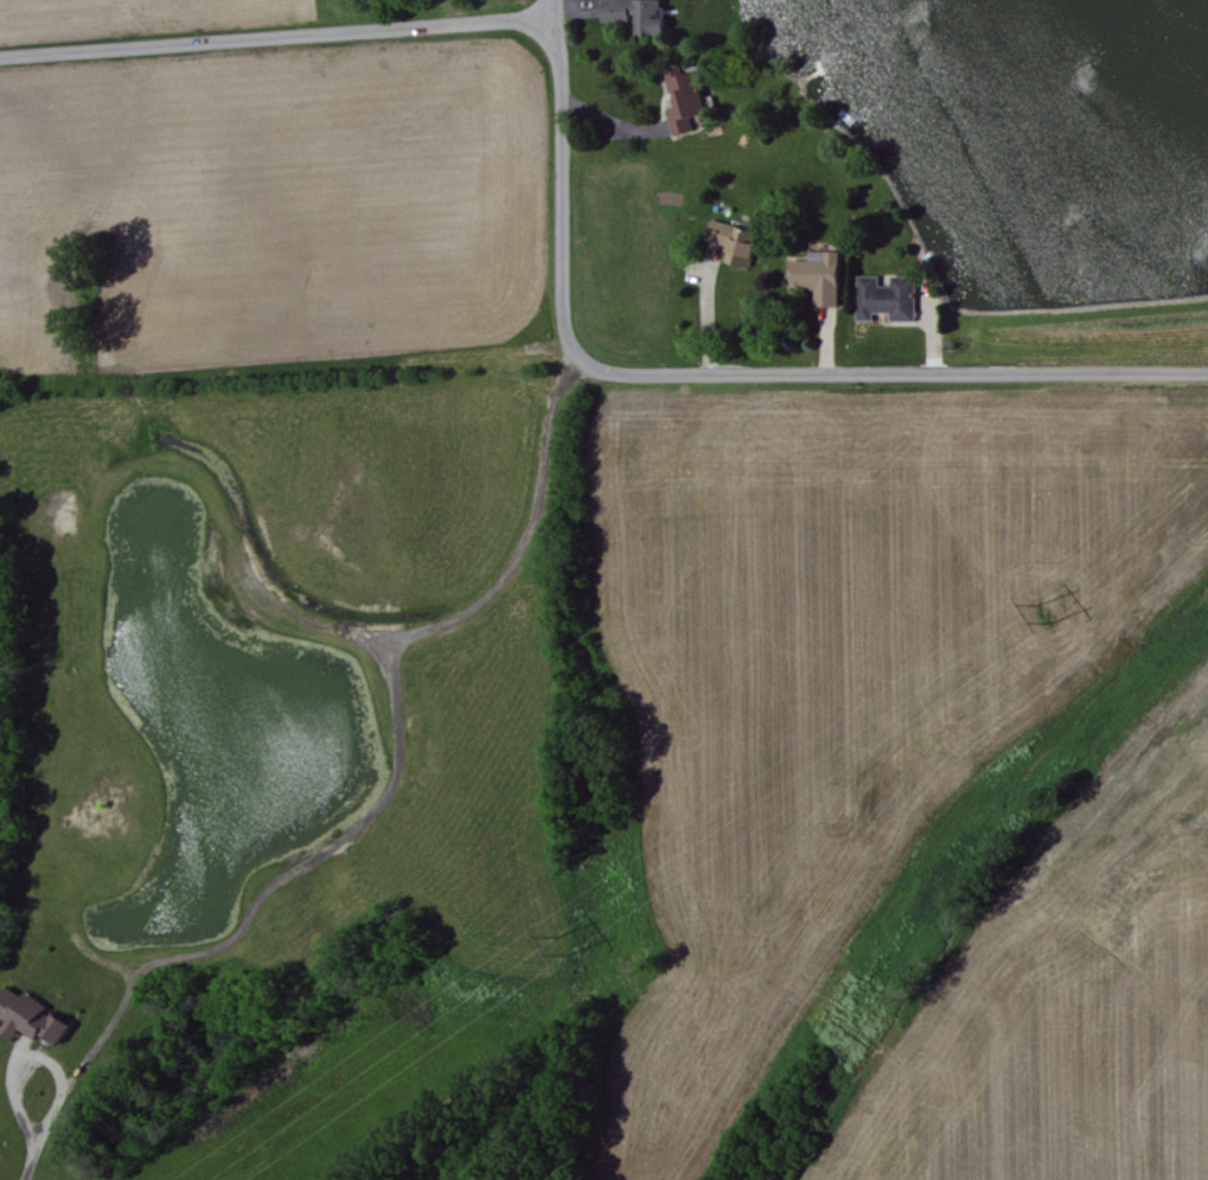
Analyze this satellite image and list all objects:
building: (631, 15)
road: (280, 34)
building: (680, 98)
road: (562, 161)
building: (730, 241)
building: (814, 275)
building: (884, 298)
road: (710, 308)
road: (873, 369)
power tower: (1038, 617)
road: (375, 808)
power tower: (562, 948)
building: (26, 1016)

